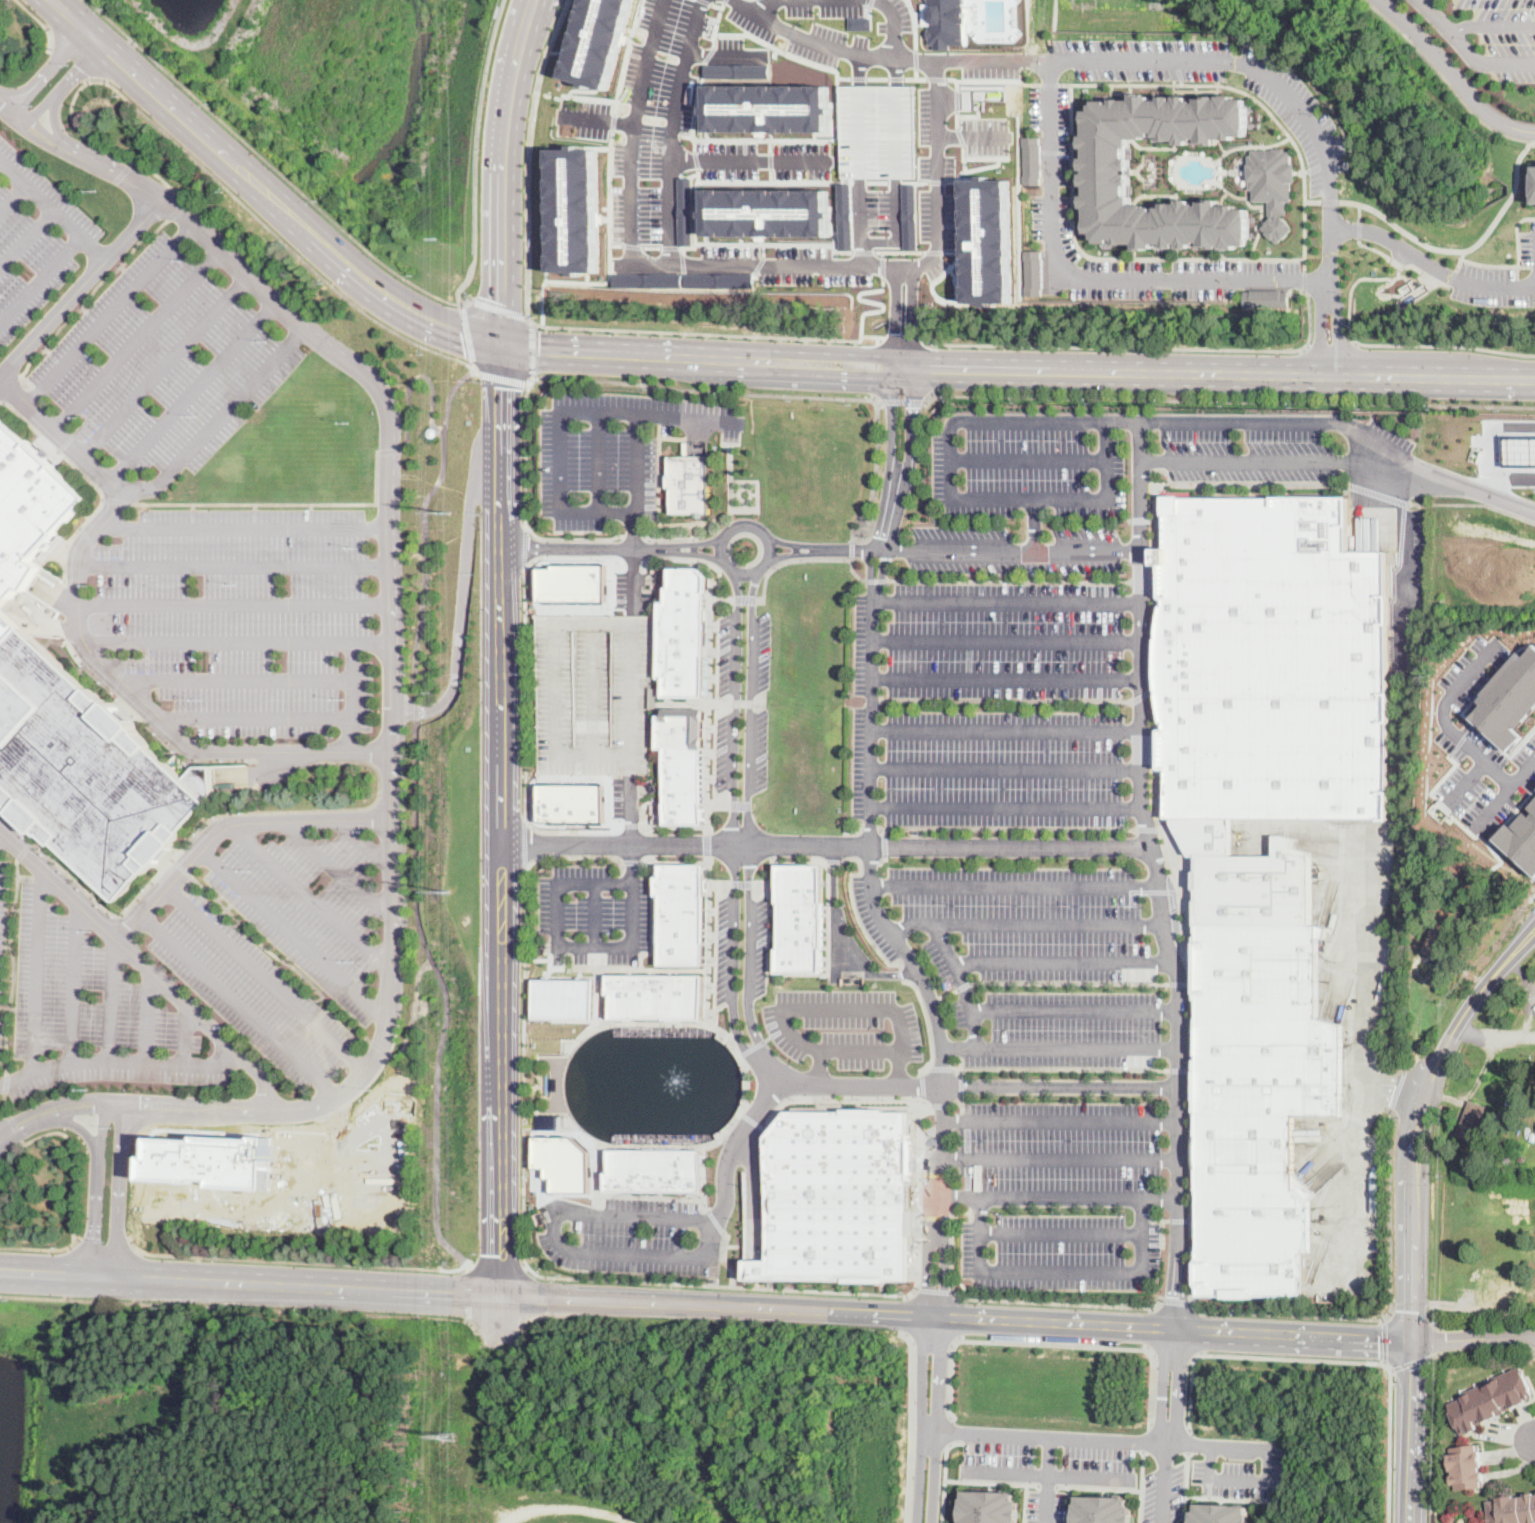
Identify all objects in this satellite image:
road: (1420, 0)
road: (755, 3)
road: (528, 6)
road: (41, 22)
building: (949, 23)
road: (900, 26)
road: (1491, 26)
parking lot: (1504, 35)
building: (596, 41)
road: (1467, 53)
road: (63, 55)
road: (75, 56)
road: (1157, 61)
road: (77, 67)
road: (1452, 75)
road: (1446, 79)
road: (1050, 82)
road: (1030, 83)
road: (20, 87)
road: (1253, 93)
road: (27, 97)
road: (6, 106)
road: (41, 108)
building: (768, 108)
road: (53, 117)
road: (20, 118)
parking lot: (1310, 119)
road: (595, 120)
road: (669, 130)
building: (878, 131)
parking garage: (878, 131)
road: (42, 134)
road: (477, 151)
road: (527, 154)
parking lot: (1055, 156)
building: (1032, 159)
road: (749, 161)
road: (275, 165)
road: (208, 169)
building: (1108, 171)
road: (500, 176)
building: (1275, 186)
road: (265, 189)
road: (11, 196)
road: (1314, 199)
road: (1331, 199)
road: (178, 207)
building: (574, 210)
road: (1360, 210)
building: (683, 211)
building: (765, 212)
road: (52, 213)
building: (845, 215)
building: (910, 216)
road: (866, 226)
road: (1360, 228)
road: (1519, 235)
road: (25, 238)
parking lot: (35, 240)
building: (988, 240)
parking lot: (1528, 247)
road: (1464, 249)
road: (1106, 257)
road: (1461, 258)
road: (1496, 263)
road: (1402, 264)
road: (751, 265)
road: (1431, 265)
road: (1400, 269)
building: (1032, 272)
road: (1452, 276)
road: (1081, 278)
road: (39, 279)
road: (1305, 280)
road: (82, 286)
parking lot: (1494, 286)
road: (91, 294)
building: (1267, 298)
road: (497, 307)
road: (110, 313)
road: (894, 315)
road: (911, 315)
road: (467, 332)
road: (704, 332)
road: (901, 337)
road: (139, 340)
traffic signals: (499, 344)
road: (1394, 344)
road: (1143, 345)
road: (1329, 346)
road: (518, 347)
road: (532, 347)
parking lot: (164, 362)
road: (165, 364)
road: (932, 366)
road: (414, 375)
road: (1427, 377)
road: (500, 378)
road: (1530, 380)
road: (194, 392)
road: (780, 393)
road: (1225, 399)
road: (900, 400)
road: (581, 410)
road: (686, 417)
road: (892, 419)
road: (912, 420)
road: (969, 421)
road: (218, 422)
road: (1349, 425)
road: (1496, 439)
building: (695, 447)
parking lot: (1289, 447)
building: (1520, 447)
road: (388, 449)
road: (525, 449)
parking lot: (615, 452)
road: (1031, 458)
road: (598, 459)
road: (1282, 460)
road: (1516, 472)
parking lot: (1030, 478)
building: (688, 483)
road: (743, 483)
road: (1250, 483)
road: (1377, 492)
road: (733, 493)
road: (752, 493)
road: (729, 497)
road: (742, 498)
road: (116, 499)
road: (1110, 499)
road: (279, 502)
road: (1473, 503)
road: (742, 505)
power tower: (449, 510)
road: (91, 512)
road: (716, 517)
road: (425, 525)
road: (1034, 525)
road: (246, 526)
road: (633, 537)
road: (570, 539)
road: (675, 539)
road: (696, 543)
road: (789, 544)
road: (524, 547)
road: (585, 549)
road: (648, 549)
road: (851, 549)
road: (978, 550)
road: (697, 553)
road: (788, 555)
road: (605, 556)
road: (1401, 558)
parking lot: (1414, 559)
road: (805, 560)
road: (686, 561)
road: (633, 564)
road: (234, 567)
road: (735, 572)
road: (459, 581)
road: (875, 581)
building: (573, 582)
road: (1009, 582)
road: (633, 583)
road: (1143, 583)
road: (720, 600)
road: (744, 601)
road: (1008, 602)
road: (234, 605)
parking lot: (246, 615)
building: (684, 634)
road: (1007, 641)
road: (236, 643)
road: (90, 653)
road: (390, 658)
building: (1272, 663)
road: (249, 678)
road: (1007, 680)
parking lot: (996, 685)
building: (594, 695)
parking garage: (594, 695)
road: (1143, 696)
building: (1509, 699)
road: (1006, 701)
parking lot: (742, 702)
road: (759, 702)
road: (721, 703)
road: (742, 703)
road: (736, 706)
road: (749, 706)
road: (410, 709)
building: (74, 714)
road: (274, 719)
road: (1007, 729)
road: (1454, 734)
road: (349, 736)
road: (709, 737)
road: (525, 745)
parking lot: (1477, 748)
building: (684, 764)
road: (1006, 768)
road: (1476, 795)
road: (500, 798)
building: (572, 802)
road: (721, 805)
road: (743, 806)
road: (1008, 808)
road: (632, 809)
road: (632, 825)
road: (871, 829)
road: (1010, 829)
road: (199, 830)
road: (1150, 830)
road: (709, 831)
road: (883, 832)
road: (856, 834)
building: (1520, 837)
road: (523, 841)
road: (362, 845)
road: (827, 845)
road: (709, 846)
road: (886, 847)
road: (25, 851)
road: (572, 855)
road: (872, 859)
road: (675, 861)
road: (835, 861)
road: (882, 861)
road: (631, 862)
road: (871, 862)
road: (797, 863)
road: (185, 865)
road: (184, 867)
road: (336, 870)
road: (1158, 876)
building: (1252, 878)
road: (721, 885)
road: (1016, 885)
road: (743, 886)
power tower: (449, 891)
road: (1149, 893)
road: (311, 897)
road: (1533, 898)
parking lot: (309, 905)
road: (856, 910)
parking lot: (595, 911)
road: (594, 914)
building: (681, 915)
parking lot: (3, 917)
parking lot: (872, 917)
road: (1050, 921)
building: (801, 922)
road: (912, 924)
road: (294, 937)
building: (1437, 938)
road: (709, 940)
road: (837, 944)
road: (574, 947)
parking lot: (726, 947)
parking lot: (755, 947)
road: (749, 953)
road: (281, 958)
road: (734, 958)
parking lot: (1040, 960)
road: (1064, 960)
road: (14, 966)
road: (144, 966)
road: (904, 975)
road: (267, 980)
road: (71, 982)
road: (1071, 984)
road: (1180, 985)
road: (965, 986)
road: (37, 990)
parking lot: (83, 991)
parking lot: (254, 992)
road: (443, 995)
road: (949, 995)
building: (563, 998)
building: (656, 998)
road: (8, 1006)
road: (239, 1007)
road: (411, 1007)
building: (1534, 1008)
road: (836, 1009)
road: (1077, 1011)
road: (146, 1016)
parking lot: (845, 1026)
road: (927, 1026)
road: (182, 1034)
parking lot: (1, 1035)
road: (1495, 1035)
road: (771, 1039)
road: (1013, 1045)
road: (380, 1046)
road: (756, 1048)
road: (860, 1050)
road: (565, 1053)
road: (1361, 1057)
road: (136, 1060)
road: (775, 1066)
road: (1404, 1068)
road: (940, 1069)
road: (1060, 1071)
road: (1179, 1071)
road: (956, 1073)
parking lot: (122, 1077)
road: (6, 1082)
road: (921, 1085)
road: (960, 1087)
road: (980, 1088)
road: (1397, 1088)
road: (1392, 1089)
road: (840, 1098)
road: (955, 1102)
building: (1257, 1102)
road: (5, 1103)
road: (960, 1103)
road: (941, 1106)
road: (77, 1108)
road: (1420, 1116)
road: (147, 1119)
road: (12, 1121)
road: (755, 1121)
road: (74, 1122)
building: (1472, 1122)
road: (1060, 1124)
road: (16, 1127)
road: (120, 1127)
road: (100, 1129)
road: (18, 1133)
road: (742, 1136)
parking lot: (1059, 1144)
road: (1059, 1158)
building: (210, 1159)
building: (1506, 1159)
building: (1521, 1159)
road: (74, 1160)
building: (565, 1162)
road: (307, 1166)
building: (655, 1172)
road: (601, 1176)
road: (707, 1178)
parking lot: (1368, 1195)
building: (839, 1197)
road: (1058, 1197)
road: (1389, 1201)
road: (117, 1212)
road: (95, 1214)
road: (338, 1216)
road: (716, 1222)
road: (553, 1232)
road: (1059, 1233)
parking lot: (632, 1234)
road: (42, 1246)
road: (104, 1246)
road: (1432, 1247)
parking lot: (1060, 1250)
road: (299, 1259)
road: (722, 1259)
road: (499, 1262)
road: (46, 1271)
road: (1059, 1271)
road: (927, 1274)
road: (942, 1274)
road: (499, 1275)
road: (614, 1277)
parking lot: (1355, 1277)
road: (295, 1285)
building: (1490, 1287)
road: (932, 1290)
road: (467, 1292)
road: (1019, 1299)
road: (1174, 1299)
road: (236, 1306)
road: (1288, 1313)
road: (1410, 1317)
road: (956, 1318)
road: (1146, 1326)
road: (1197, 1330)
road: (1435, 1338)
road: (1474, 1338)
road: (1384, 1340)
traffic signals: (1413, 1341)
road: (931, 1342)
road: (1050, 1342)
road: (1534, 1350)
road: (1172, 1356)
road: (1333, 1359)
road: (1409, 1361)
road: (1431, 1384)
road: (1160, 1385)
road: (1176, 1386)
building: (1490, 1399)
road: (919, 1419)
road: (935, 1420)
road: (909, 1425)
road: (950, 1429)
road: (1412, 1432)
power tower: (449, 1436)
road: (1145, 1437)
road: (1092, 1438)
road: (1186, 1439)
road: (1534, 1439)
road: (1046, 1454)
parking lot: (1046, 1462)
parking lot: (1237, 1467)
building: (1466, 1467)
road: (1001, 1471)
road: (942, 1475)
road: (1088, 1475)
road: (1235, 1478)
road: (988, 1480)
road: (1163, 1482)
road: (1043, 1483)
road: (1096, 1486)
road: (1140, 1486)
road: (1184, 1487)
parking lot: (1162, 1494)
road: (1044, 1498)
road: (1228, 1498)
road: (1023, 1502)
road: (1065, 1504)
parking lot: (1044, 1506)
building: (988, 1507)
building: (1101, 1509)
building: (1512, 1509)
building: (1219, 1513)
building: (1461, 1520)

